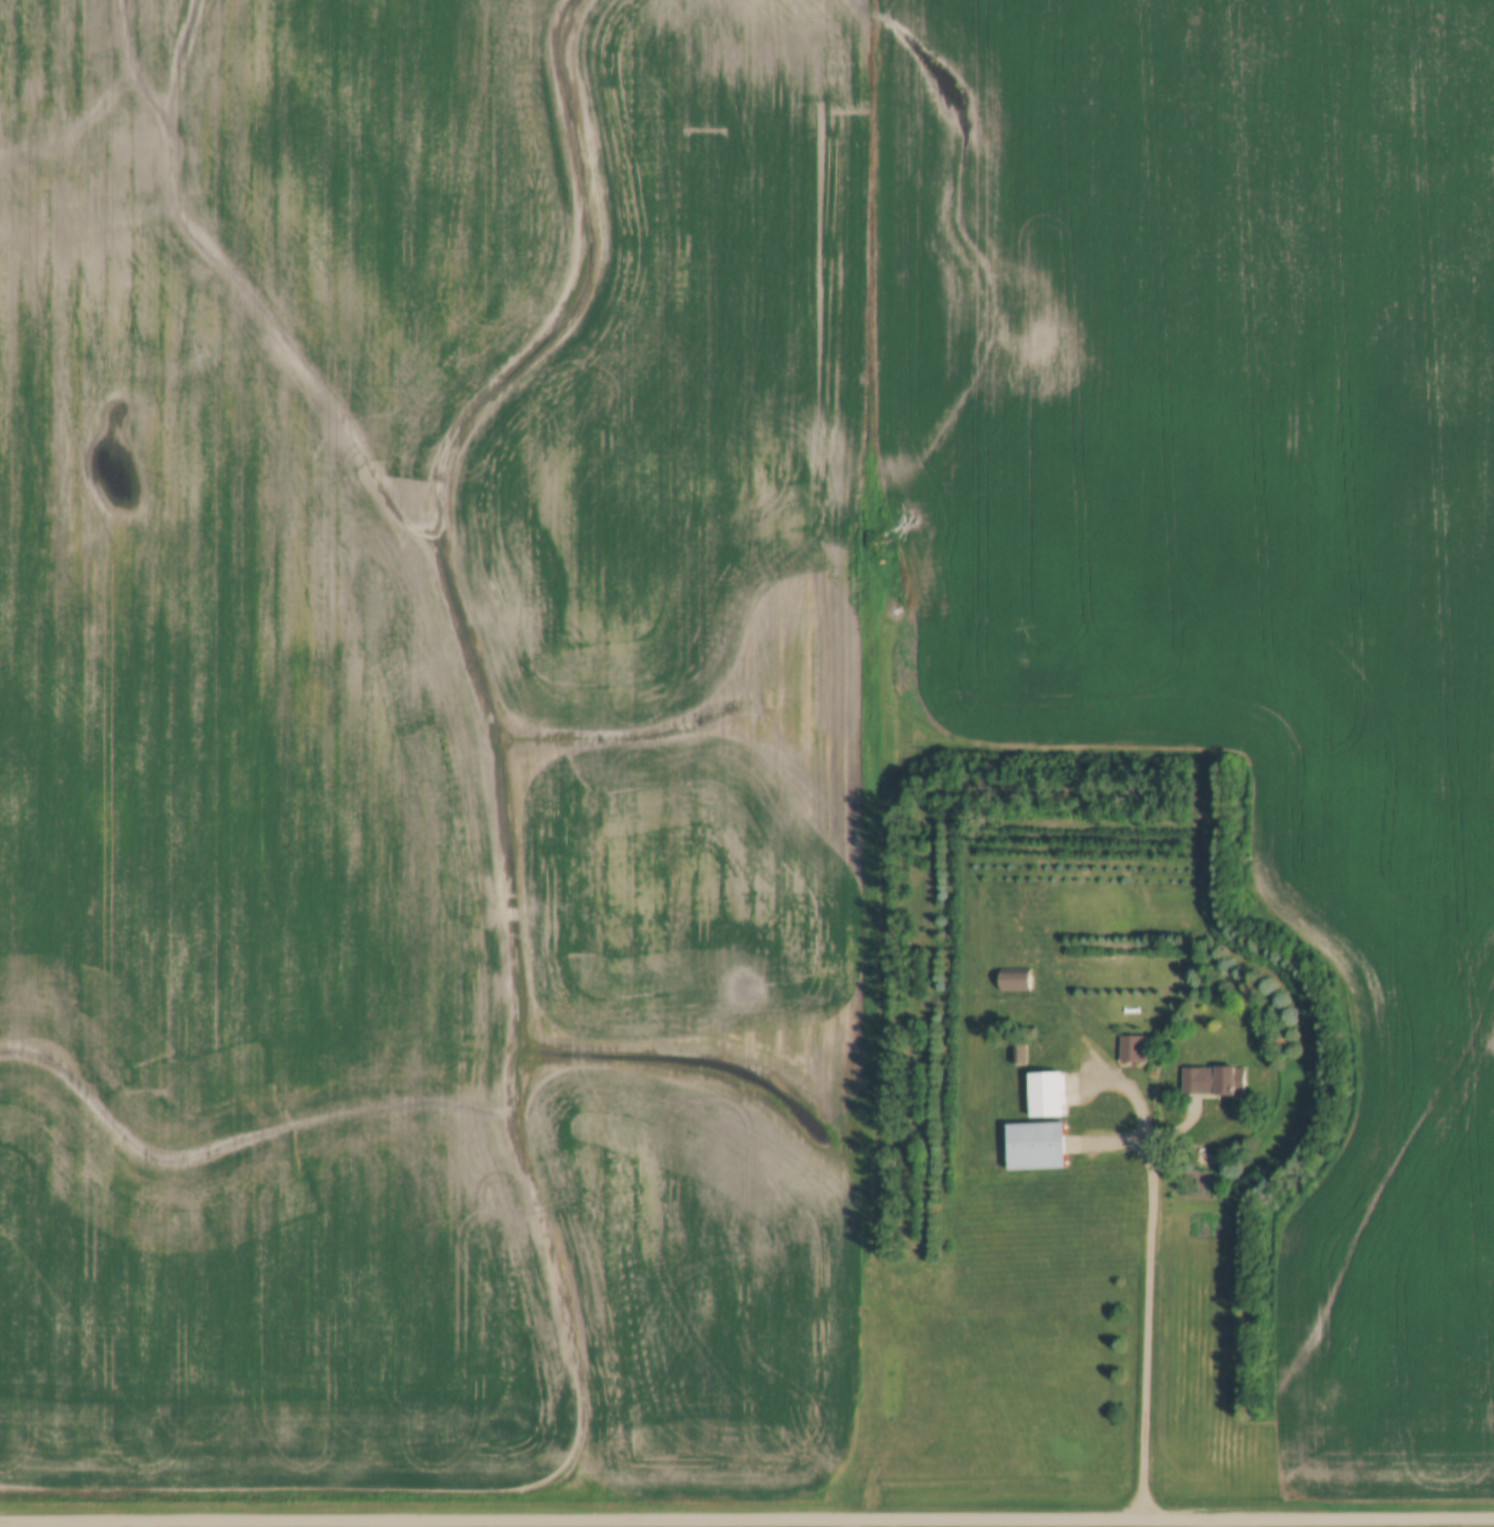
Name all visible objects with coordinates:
road: (1065, 823)
building: (1016, 979)
building: (1018, 1054)
building: (1216, 1081)
building: (1049, 1094)
building: (1039, 1146)
road: (1153, 1274)
road: (746, 1520)
road: (863, 1523)

